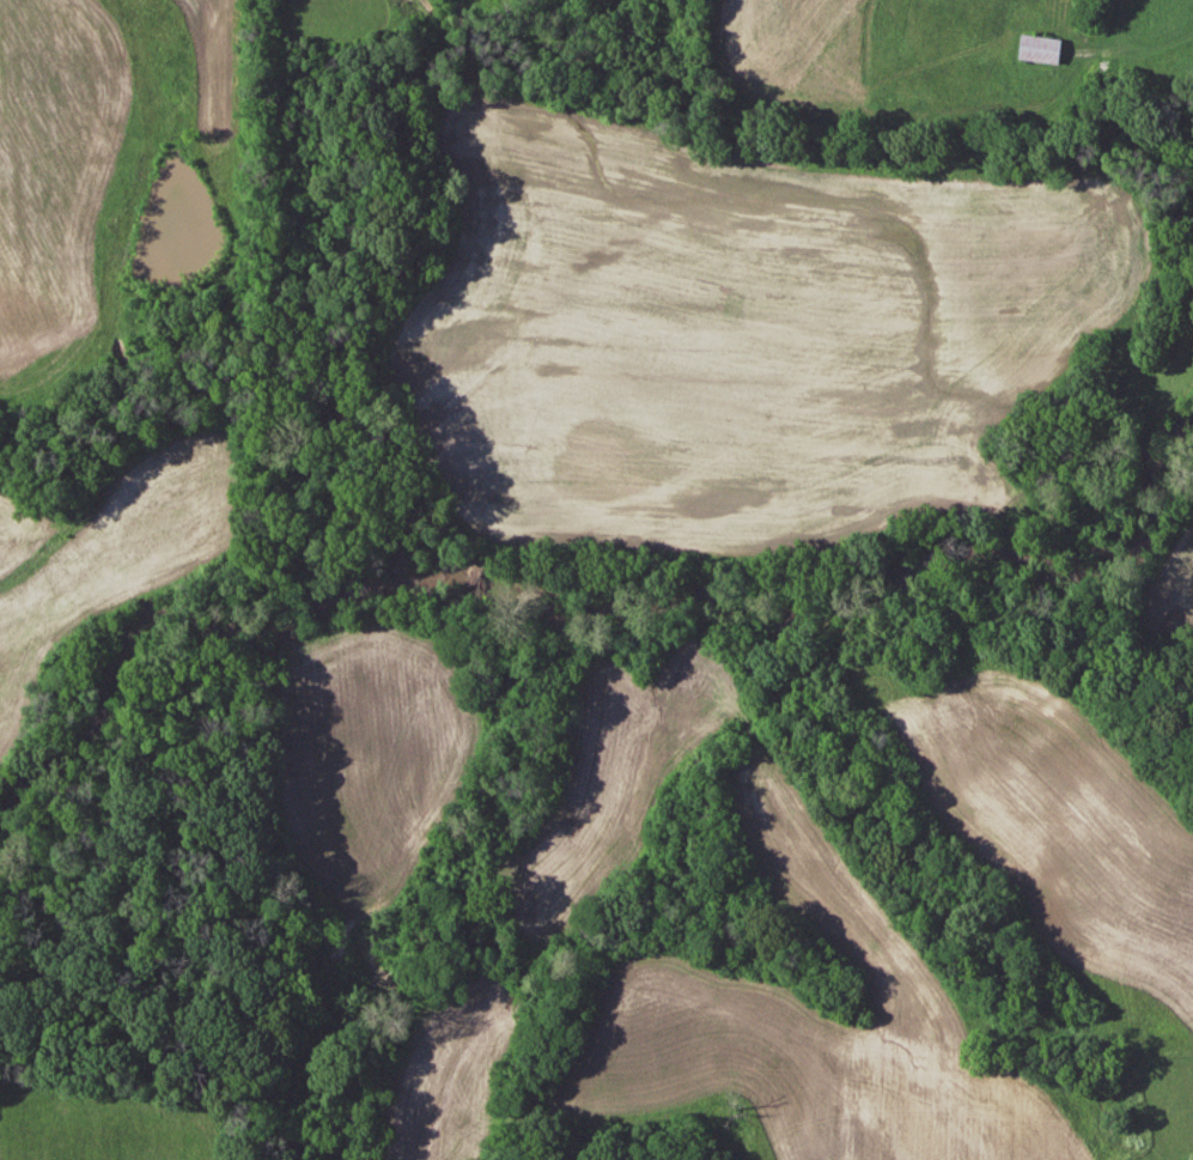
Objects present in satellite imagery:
building: (1040, 49)

